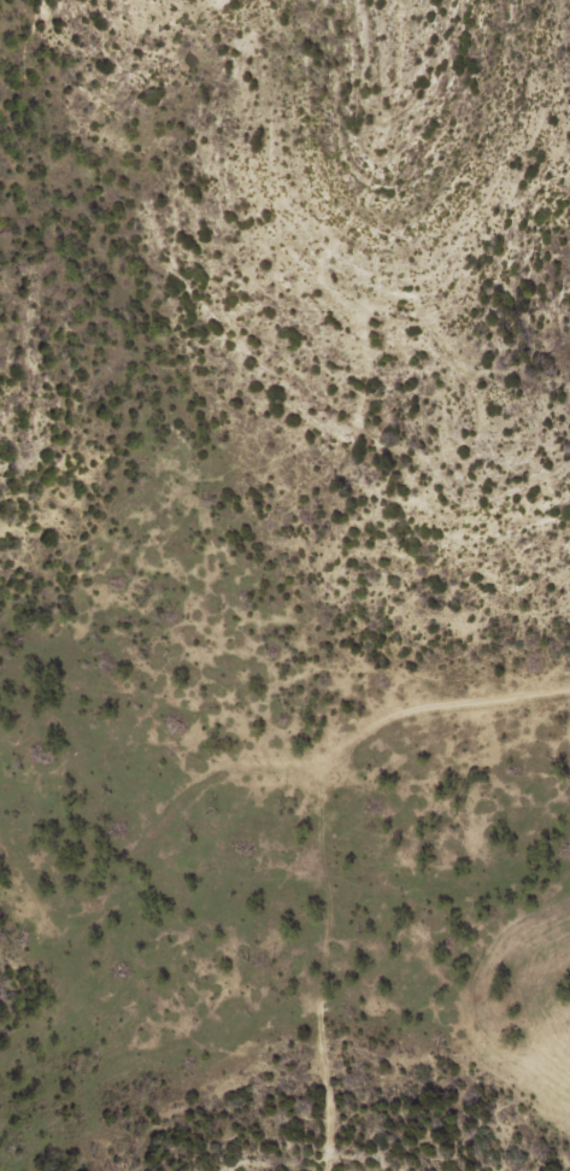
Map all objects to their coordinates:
road: (547, 708)

